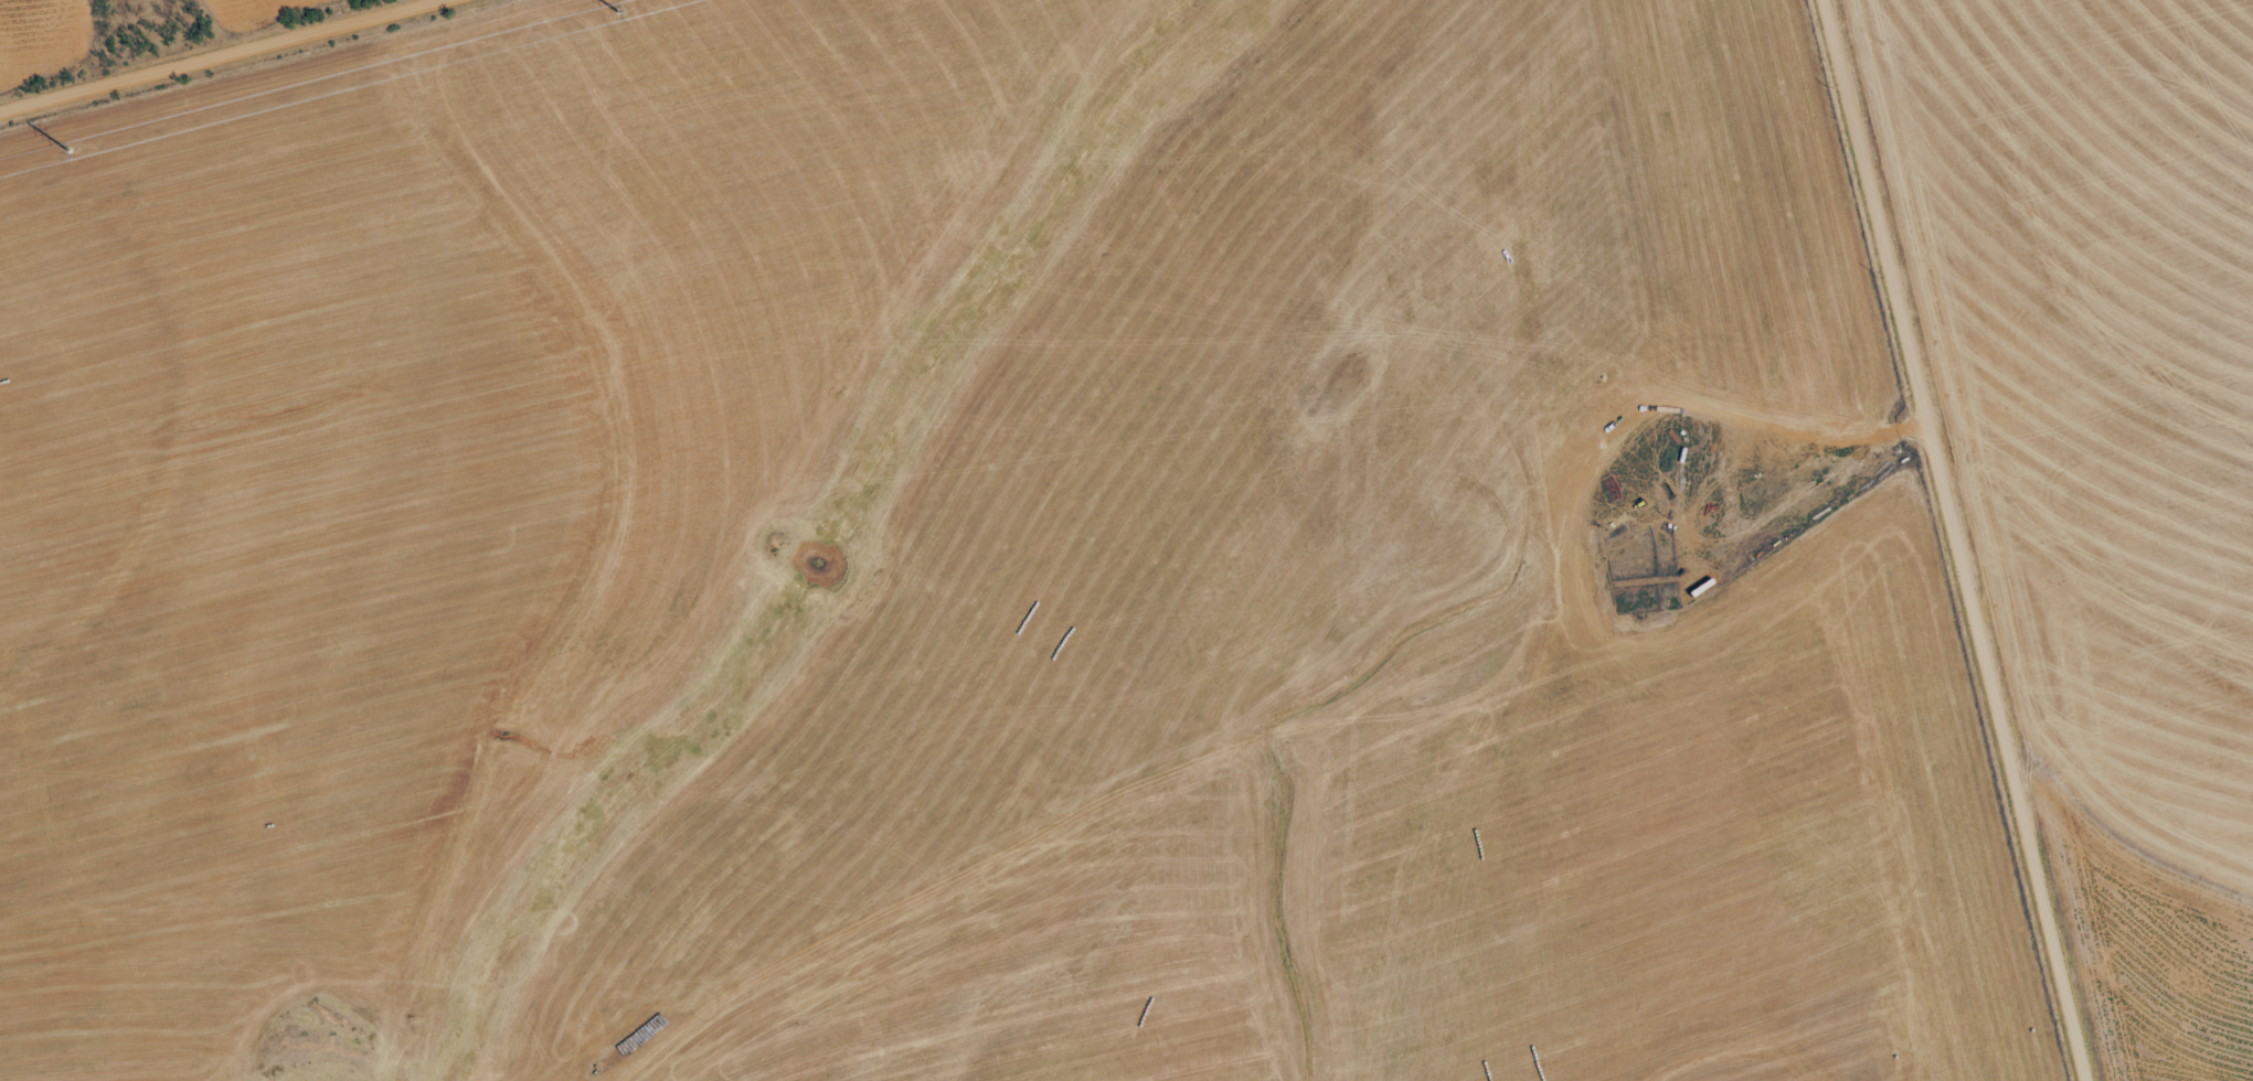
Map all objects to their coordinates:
power tower: (619, 11)
road: (261, 65)
power tower: (71, 150)
road: (1977, 540)

